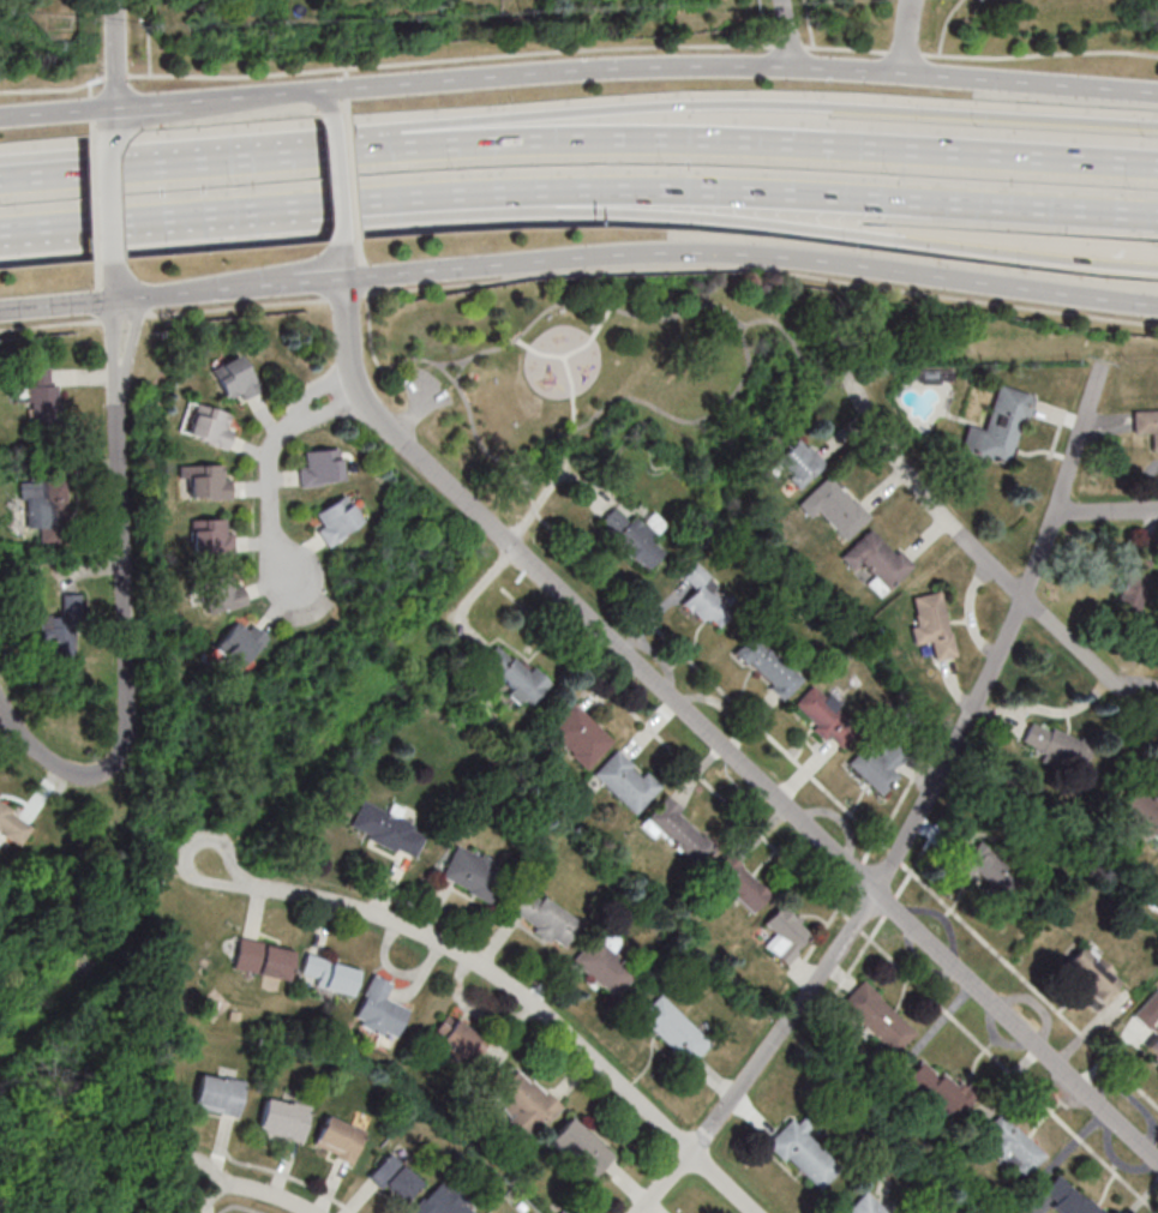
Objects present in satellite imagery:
road: (788, 34)
road: (907, 36)
road: (577, 49)
road: (115, 53)
road: (578, 70)
road: (324, 100)
road: (763, 104)
road: (110, 119)
road: (767, 140)
road: (108, 156)
road: (296, 156)
road: (108, 170)
road: (342, 178)
road: (706, 191)
road: (113, 194)
road: (707, 216)
road: (127, 220)
road: (751, 253)
road: (762, 268)
road: (253, 275)
road: (115, 280)
road: (320, 280)
road: (205, 290)
road: (344, 298)
road: (56, 305)
road: (726, 308)
road: (162, 314)
road: (370, 334)
road: (793, 342)
road: (130, 350)
road: (114, 352)
road: (571, 352)
road: (342, 356)
park: (661, 368)
road: (461, 370)
building: (234, 378)
road: (310, 384)
parking lot: (425, 389)
road: (317, 390)
road: (572, 391)
building: (41, 395)
road: (330, 412)
road: (410, 413)
building: (1146, 425)
building: (210, 426)
building: (998, 426)
road: (473, 431)
building: (799, 463)
road: (520, 467)
building: (320, 468)
building: (206, 480)
road: (269, 496)
building: (835, 508)
road: (1106, 508)
building: (44, 509)
building: (336, 520)
building: (634, 535)
building: (211, 538)
road: (512, 544)
road: (985, 557)
building: (877, 559)
road: (122, 569)
building: (1133, 587)
building: (221, 594)
building: (704, 599)
building: (932, 623)
building: (61, 632)
building: (239, 642)
building: (768, 666)
building: (512, 673)
building: (818, 710)
building: (577, 738)
road: (716, 738)
building: (1056, 744)
building: (877, 765)
road: (64, 767)
building: (626, 782)
road: (842, 806)
building: (1140, 811)
road: (919, 813)
building: (13, 825)
building: (385, 830)
building: (680, 831)
building: (984, 865)
building: (473, 873)
building: (739, 883)
road: (829, 900)
building: (542, 915)
building: (785, 933)
building: (263, 959)
building: (604, 966)
building: (328, 974)
building: (1093, 974)
road: (76, 975)
road: (512, 987)
building: (379, 1009)
building: (878, 1017)
building: (674, 1028)
building: (458, 1038)
park: (74, 1045)
building: (1153, 1045)
building: (938, 1088)
building: (218, 1095)
building: (524, 1104)
building: (283, 1119)
building: (338, 1139)
building: (1013, 1146)
building: (578, 1148)
building: (804, 1153)
building: (392, 1179)
road: (254, 1190)
building: (1067, 1196)
building: (442, 1200)
building: (865, 1205)

